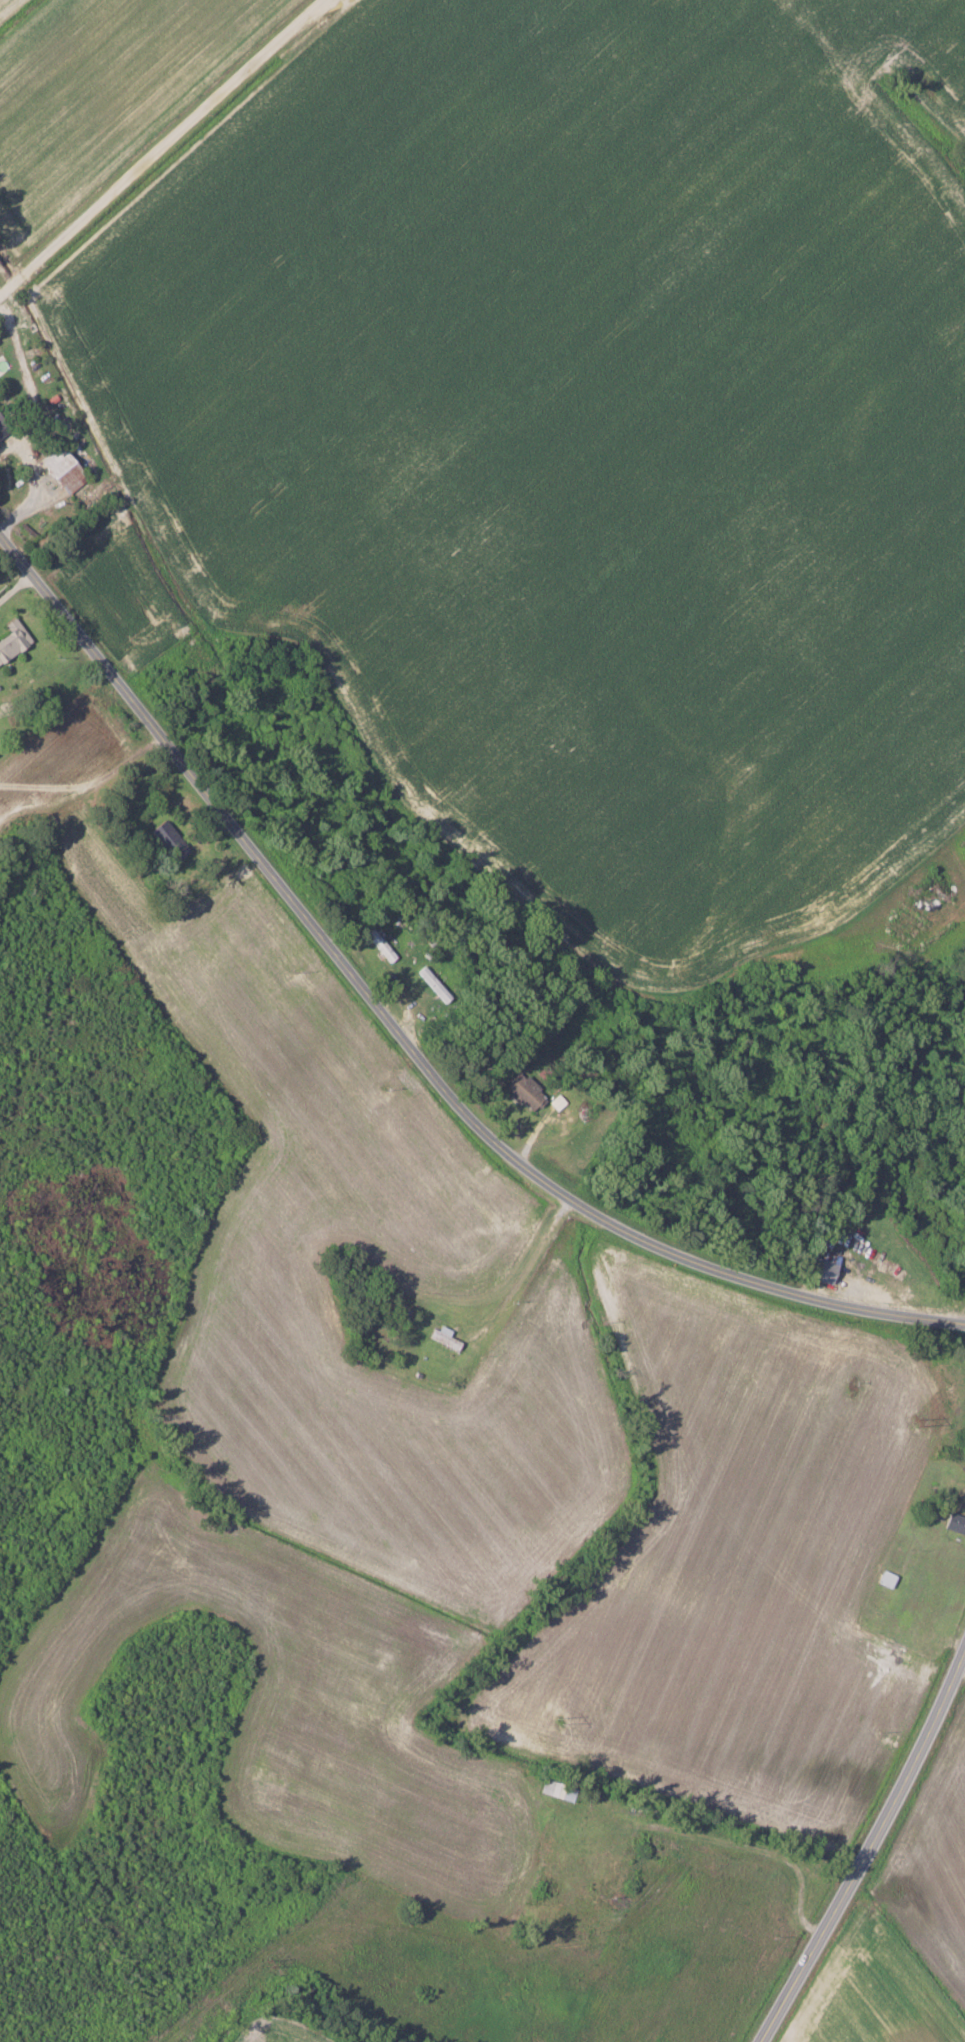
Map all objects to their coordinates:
building: (56, 425)
building: (3, 427)
building: (62, 470)
building: (12, 640)
building: (169, 841)
building: (379, 943)
road: (404, 1040)
building: (525, 1091)
building: (823, 1267)
building: (445, 1336)
power tower: (921, 1421)
building: (955, 1523)
power tower: (565, 1716)
road: (861, 1849)
power tower: (271, 1961)

